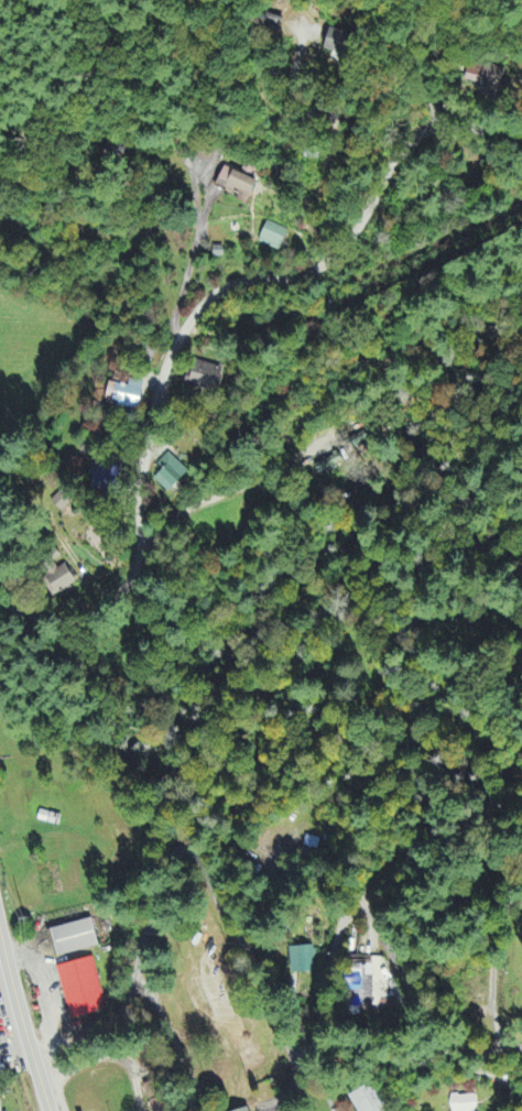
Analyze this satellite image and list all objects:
building: (338, 43)
building: (487, 78)
building: (238, 186)
building: (273, 238)
road: (189, 263)
road: (191, 322)
building: (205, 377)
building: (126, 395)
building: (328, 467)
building: (171, 475)
building: (107, 480)
building: (62, 503)
building: (61, 582)
road: (197, 858)
road: (380, 930)
building: (76, 939)
building: (303, 961)
road: (492, 962)
building: (83, 990)
road: (24, 1020)
road: (106, 1059)
building: (367, 1100)
building: (464, 1103)
building: (0, 1107)
building: (247, 1110)

